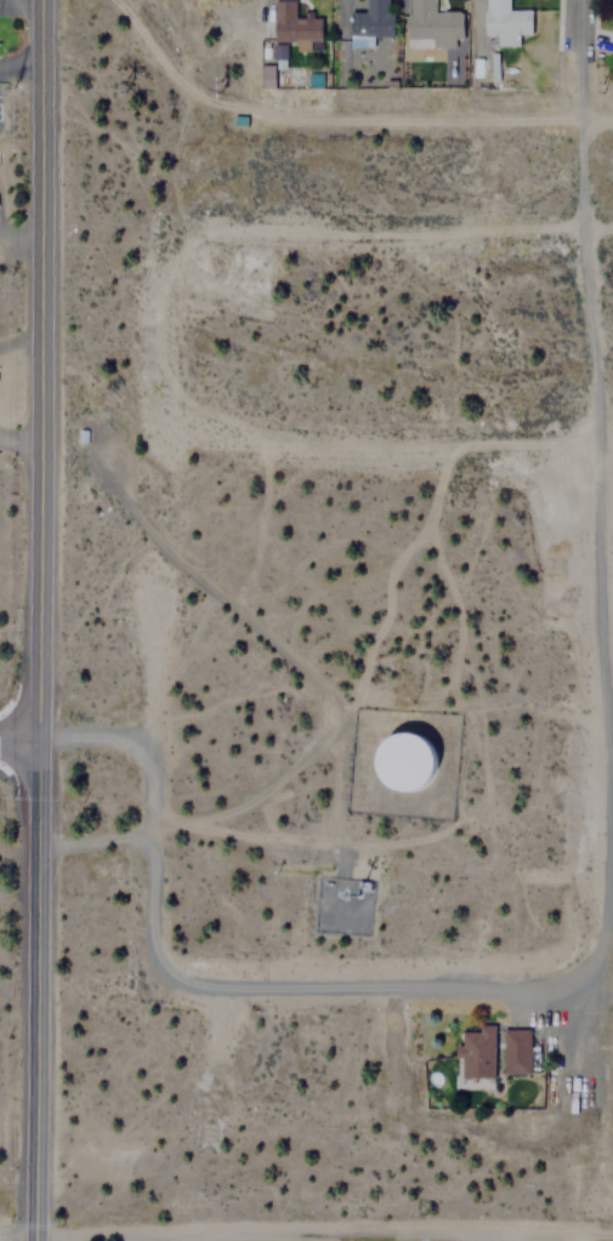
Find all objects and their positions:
building: (373, 18)
building: (505, 22)
building: (433, 23)
building: (294, 27)
road: (573, 58)
building: (269, 76)
road: (322, 120)
road: (34, 620)
road: (310, 678)
road: (15, 741)
building: (407, 761)
storage tank: (407, 761)
road: (266, 838)
road: (218, 983)
building: (515, 1051)
building: (477, 1052)
road: (320, 1231)

